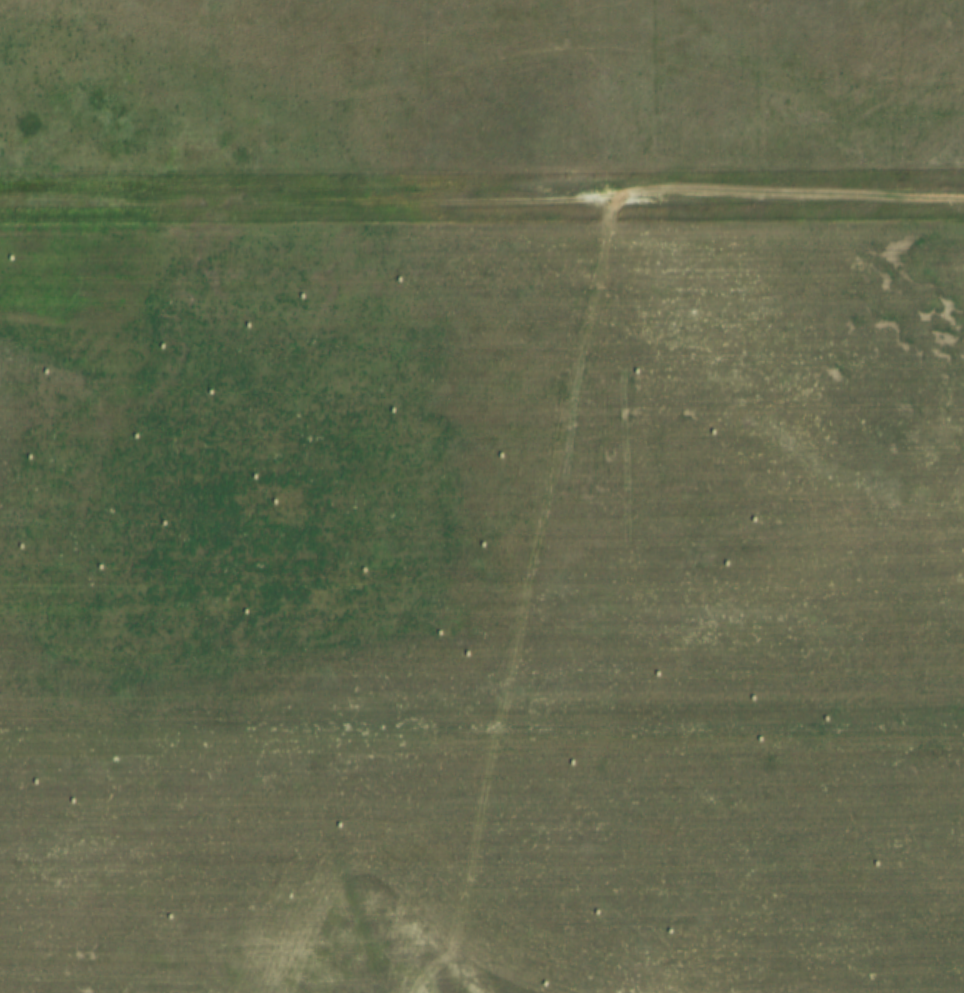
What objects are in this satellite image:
road: (481, 199)

